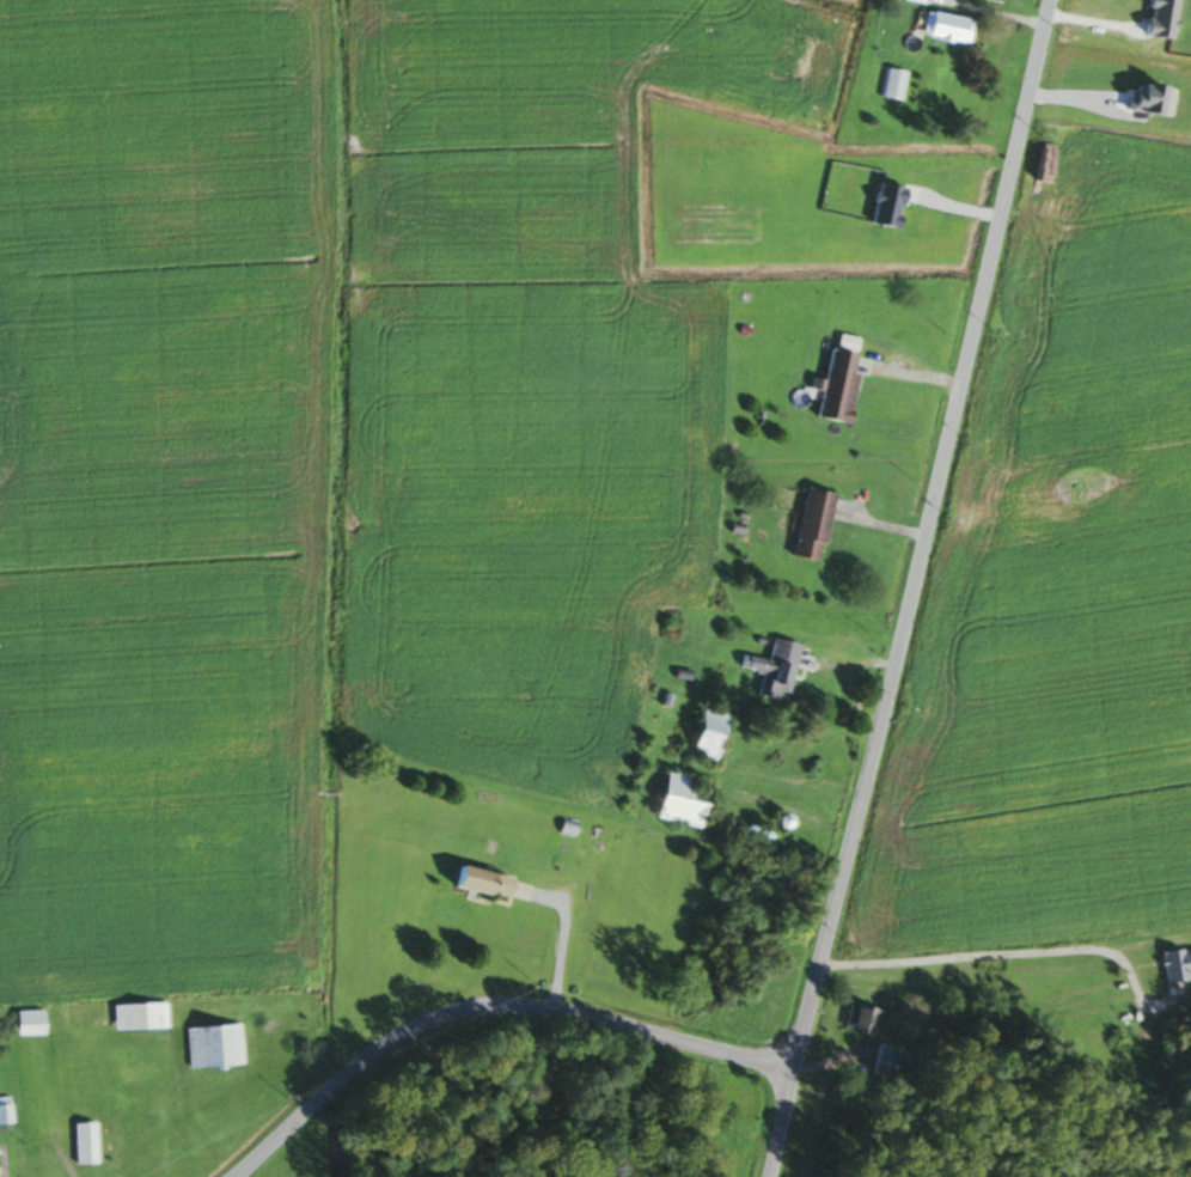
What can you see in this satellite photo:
building: (918, 0)
building: (941, 25)
building: (890, 81)
building: (833, 384)
building: (807, 524)
road: (912, 588)
building: (825, 645)
building: (770, 666)
building: (704, 718)
building: (673, 798)
building: (474, 879)
road: (558, 934)
building: (1175, 963)
road: (988, 965)
road: (490, 1013)
building: (85, 1014)
building: (135, 1016)
building: (859, 1019)
building: (23, 1022)
building: (210, 1044)
building: (881, 1060)
building: (529, 1079)
building: (2, 1109)
building: (80, 1141)

